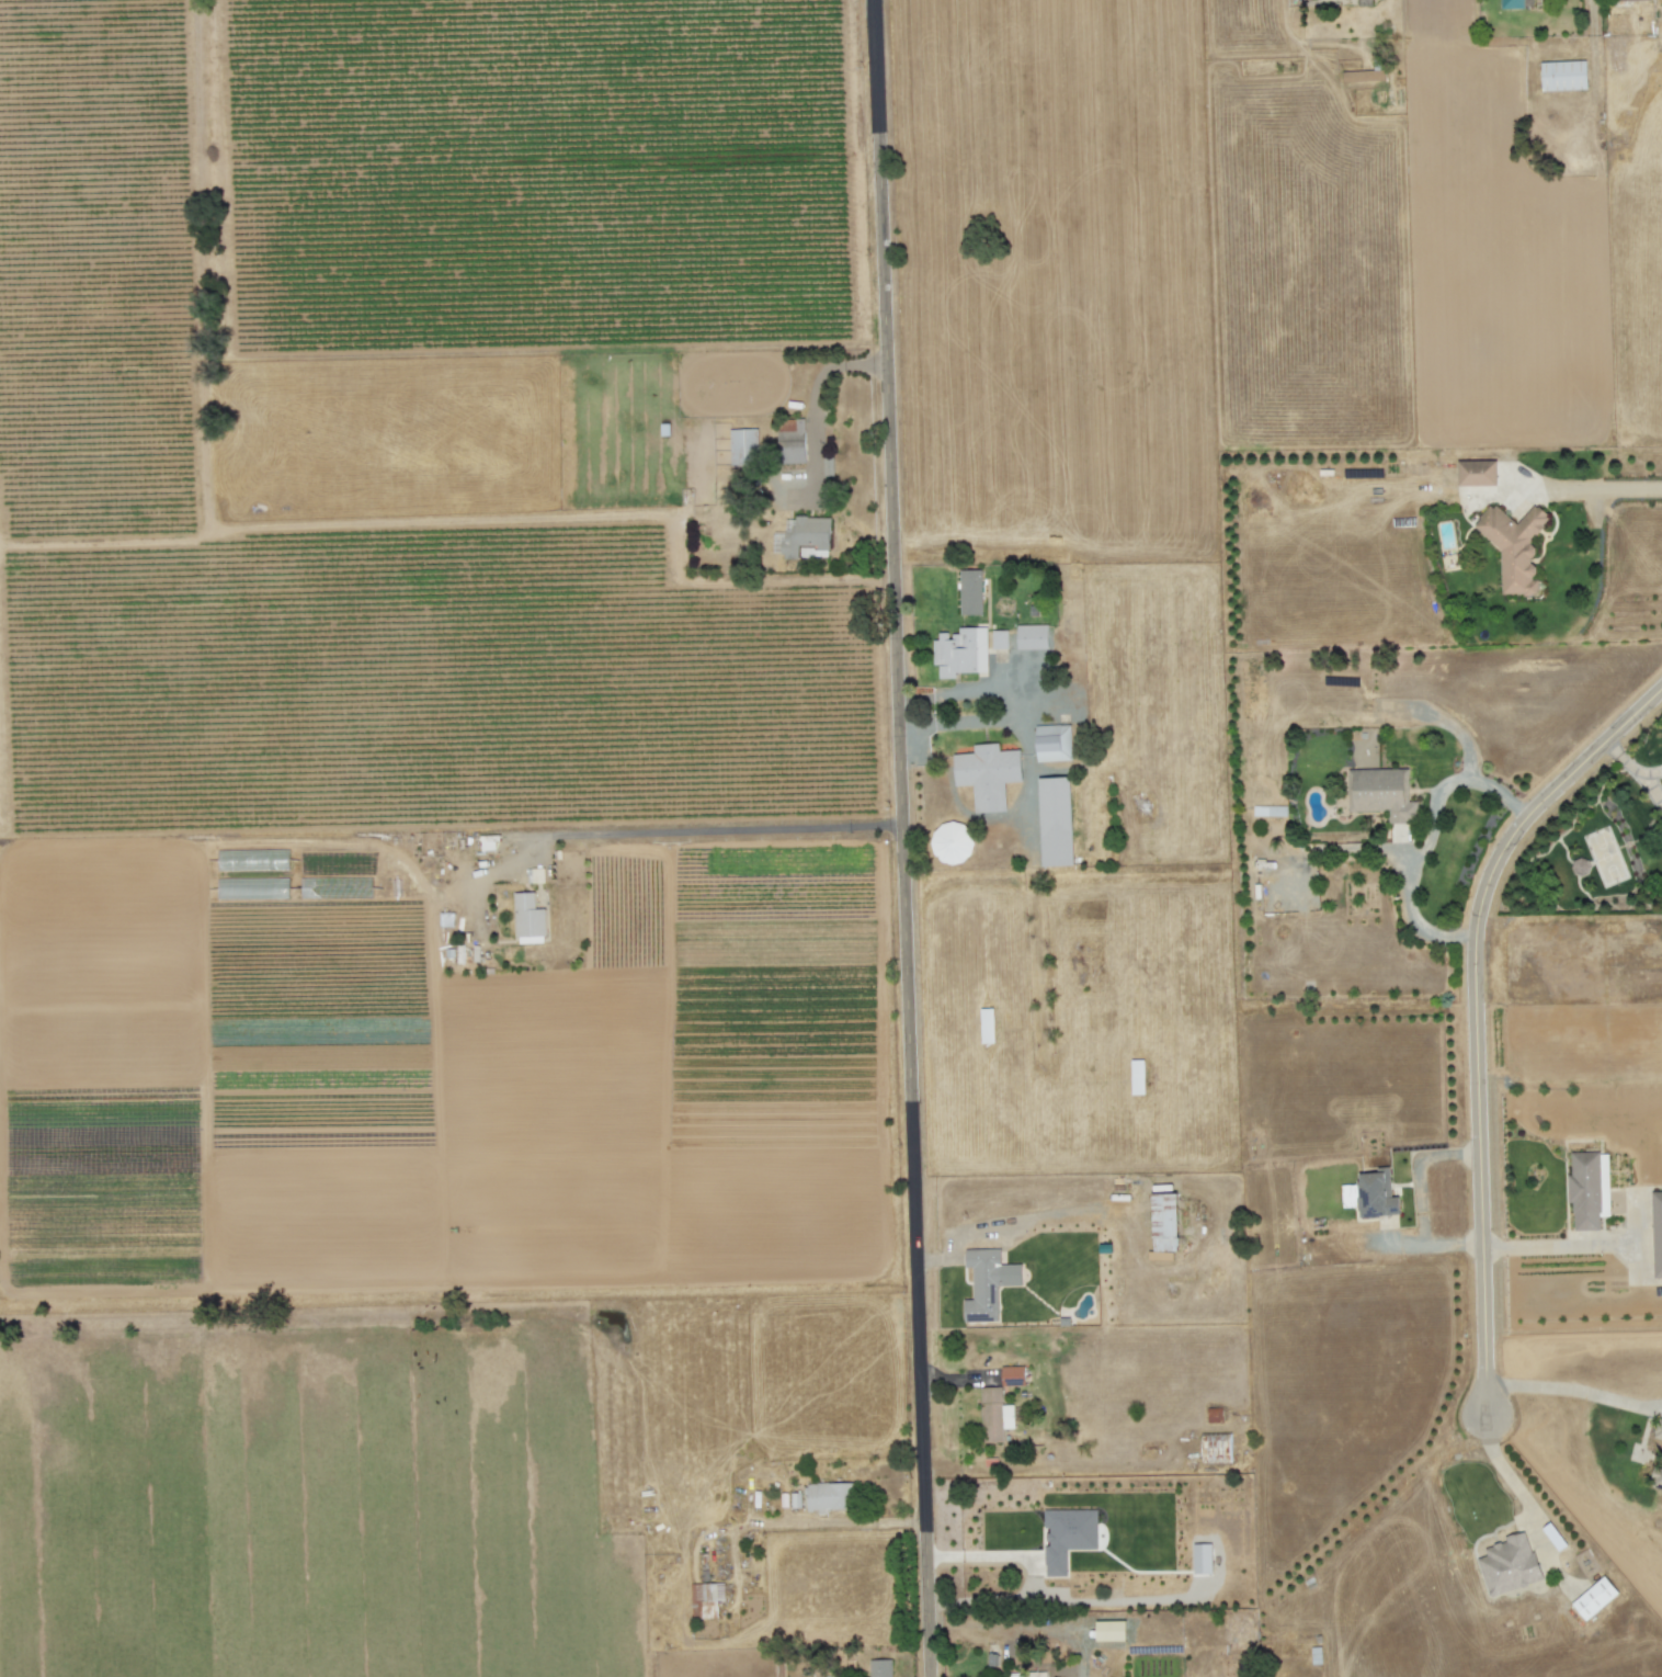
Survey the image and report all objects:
building: (1625, 0)
building: (1512, 4)
building: (1363, 76)
building: (1564, 76)
road: (811, 411)
building: (790, 441)
building: (742, 446)
building: (1478, 473)
road: (1571, 492)
building: (805, 535)
building: (1513, 547)
building: (970, 592)
building: (1032, 637)
building: (999, 639)
building: (960, 651)
road: (1021, 704)
road: (1459, 737)
building: (1052, 743)
building: (988, 775)
building: (1381, 794)
building: (1056, 821)
road: (694, 831)
road: (899, 838)
road: (1423, 840)
building: (950, 843)
road: (1364, 849)
road: (1472, 1013)
road: (1416, 1176)
building: (1589, 1190)
building: (1373, 1194)
building: (1164, 1227)
building: (1657, 1233)
road: (1428, 1246)
road: (1545, 1248)
building: (988, 1283)
building: (1013, 1375)
road: (1556, 1386)
building: (994, 1415)
building: (1216, 1448)
building: (1658, 1457)
road: (1503, 1470)
building: (829, 1497)
building: (1067, 1537)
building: (1203, 1559)
building: (1509, 1564)
building: (1594, 1598)
building: (706, 1600)
building: (1111, 1631)
building: (880, 1668)
building: (1036, 1674)

